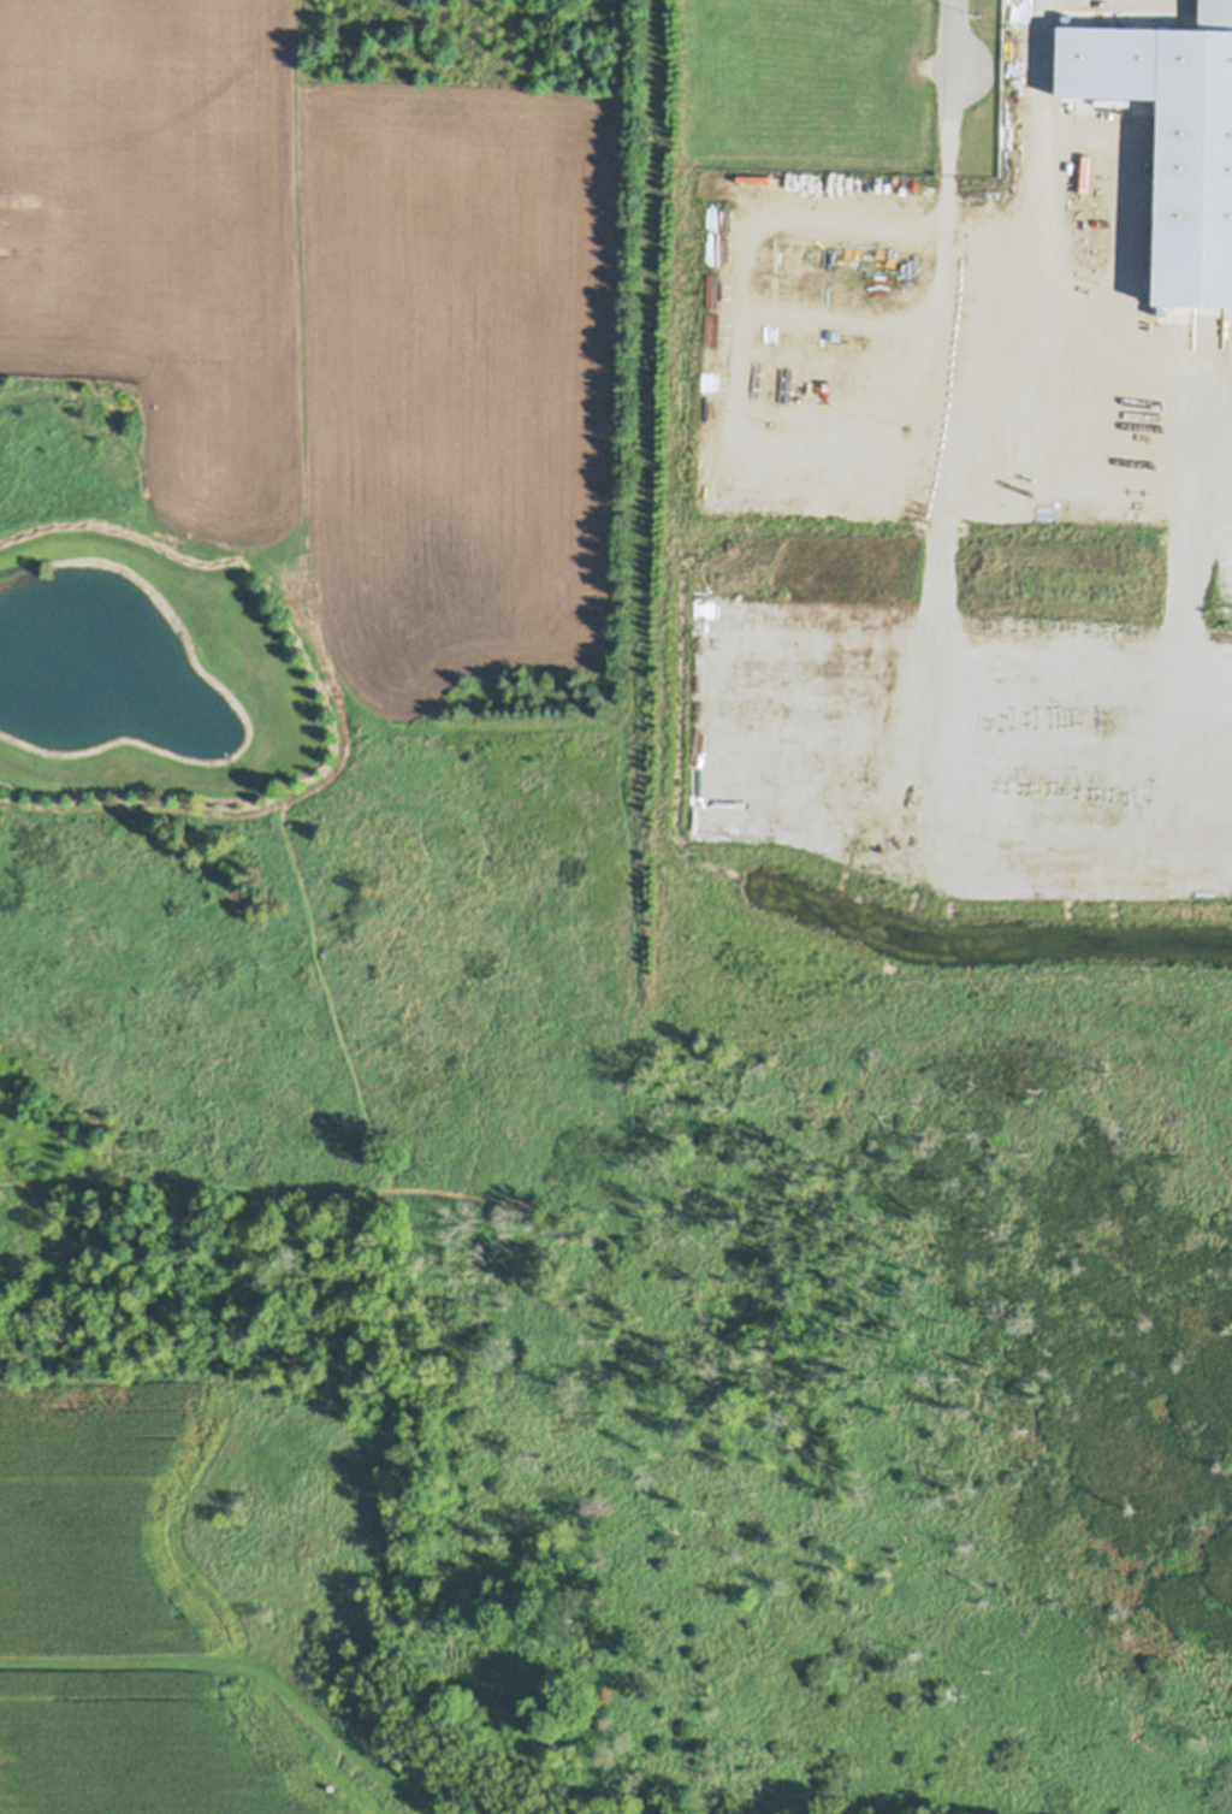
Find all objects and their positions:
building: (1215, 14)
road: (943, 35)
building: (1219, 443)
crop: (953, 632)
crop: (143, 1613)

